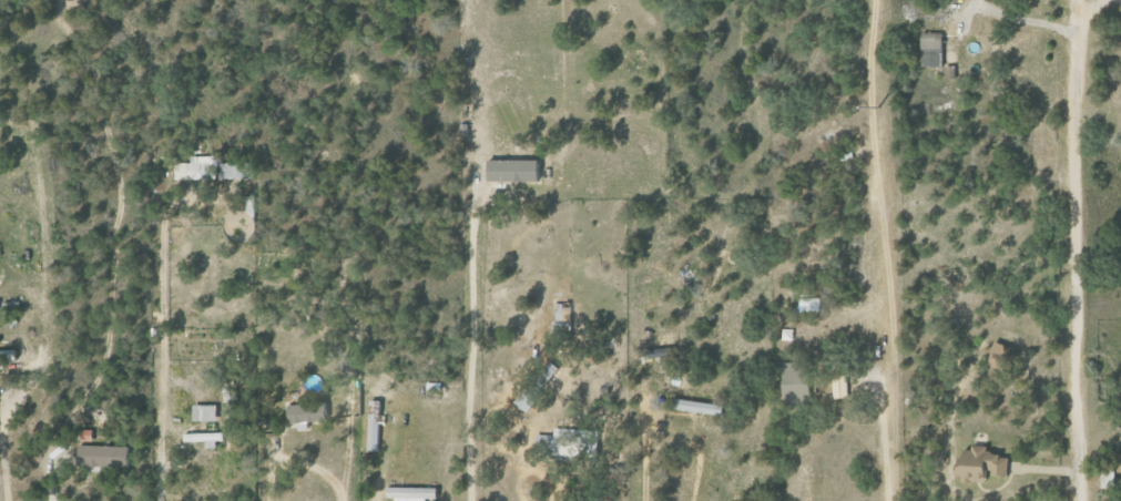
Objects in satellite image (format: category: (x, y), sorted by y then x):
road: (1030, 19)
building: (935, 50)
power tower: (878, 108)
building: (184, 171)
building: (238, 171)
building: (517, 171)
road: (1077, 250)
building: (561, 318)
road: (470, 335)
building: (1000, 356)
building: (8, 358)
road: (891, 364)
building: (798, 379)
building: (840, 386)
building: (529, 400)
building: (697, 407)
building: (211, 413)
building: (310, 413)
building: (376, 426)
road: (663, 430)
building: (207, 439)
building: (570, 443)
road: (3, 454)
building: (105, 457)
building: (1117, 463)
building: (980, 466)
road: (310, 468)
road: (378, 471)
road: (161, 474)
building: (1104, 478)
road: (268, 482)
road: (52, 484)
building: (414, 493)
road: (537, 498)

